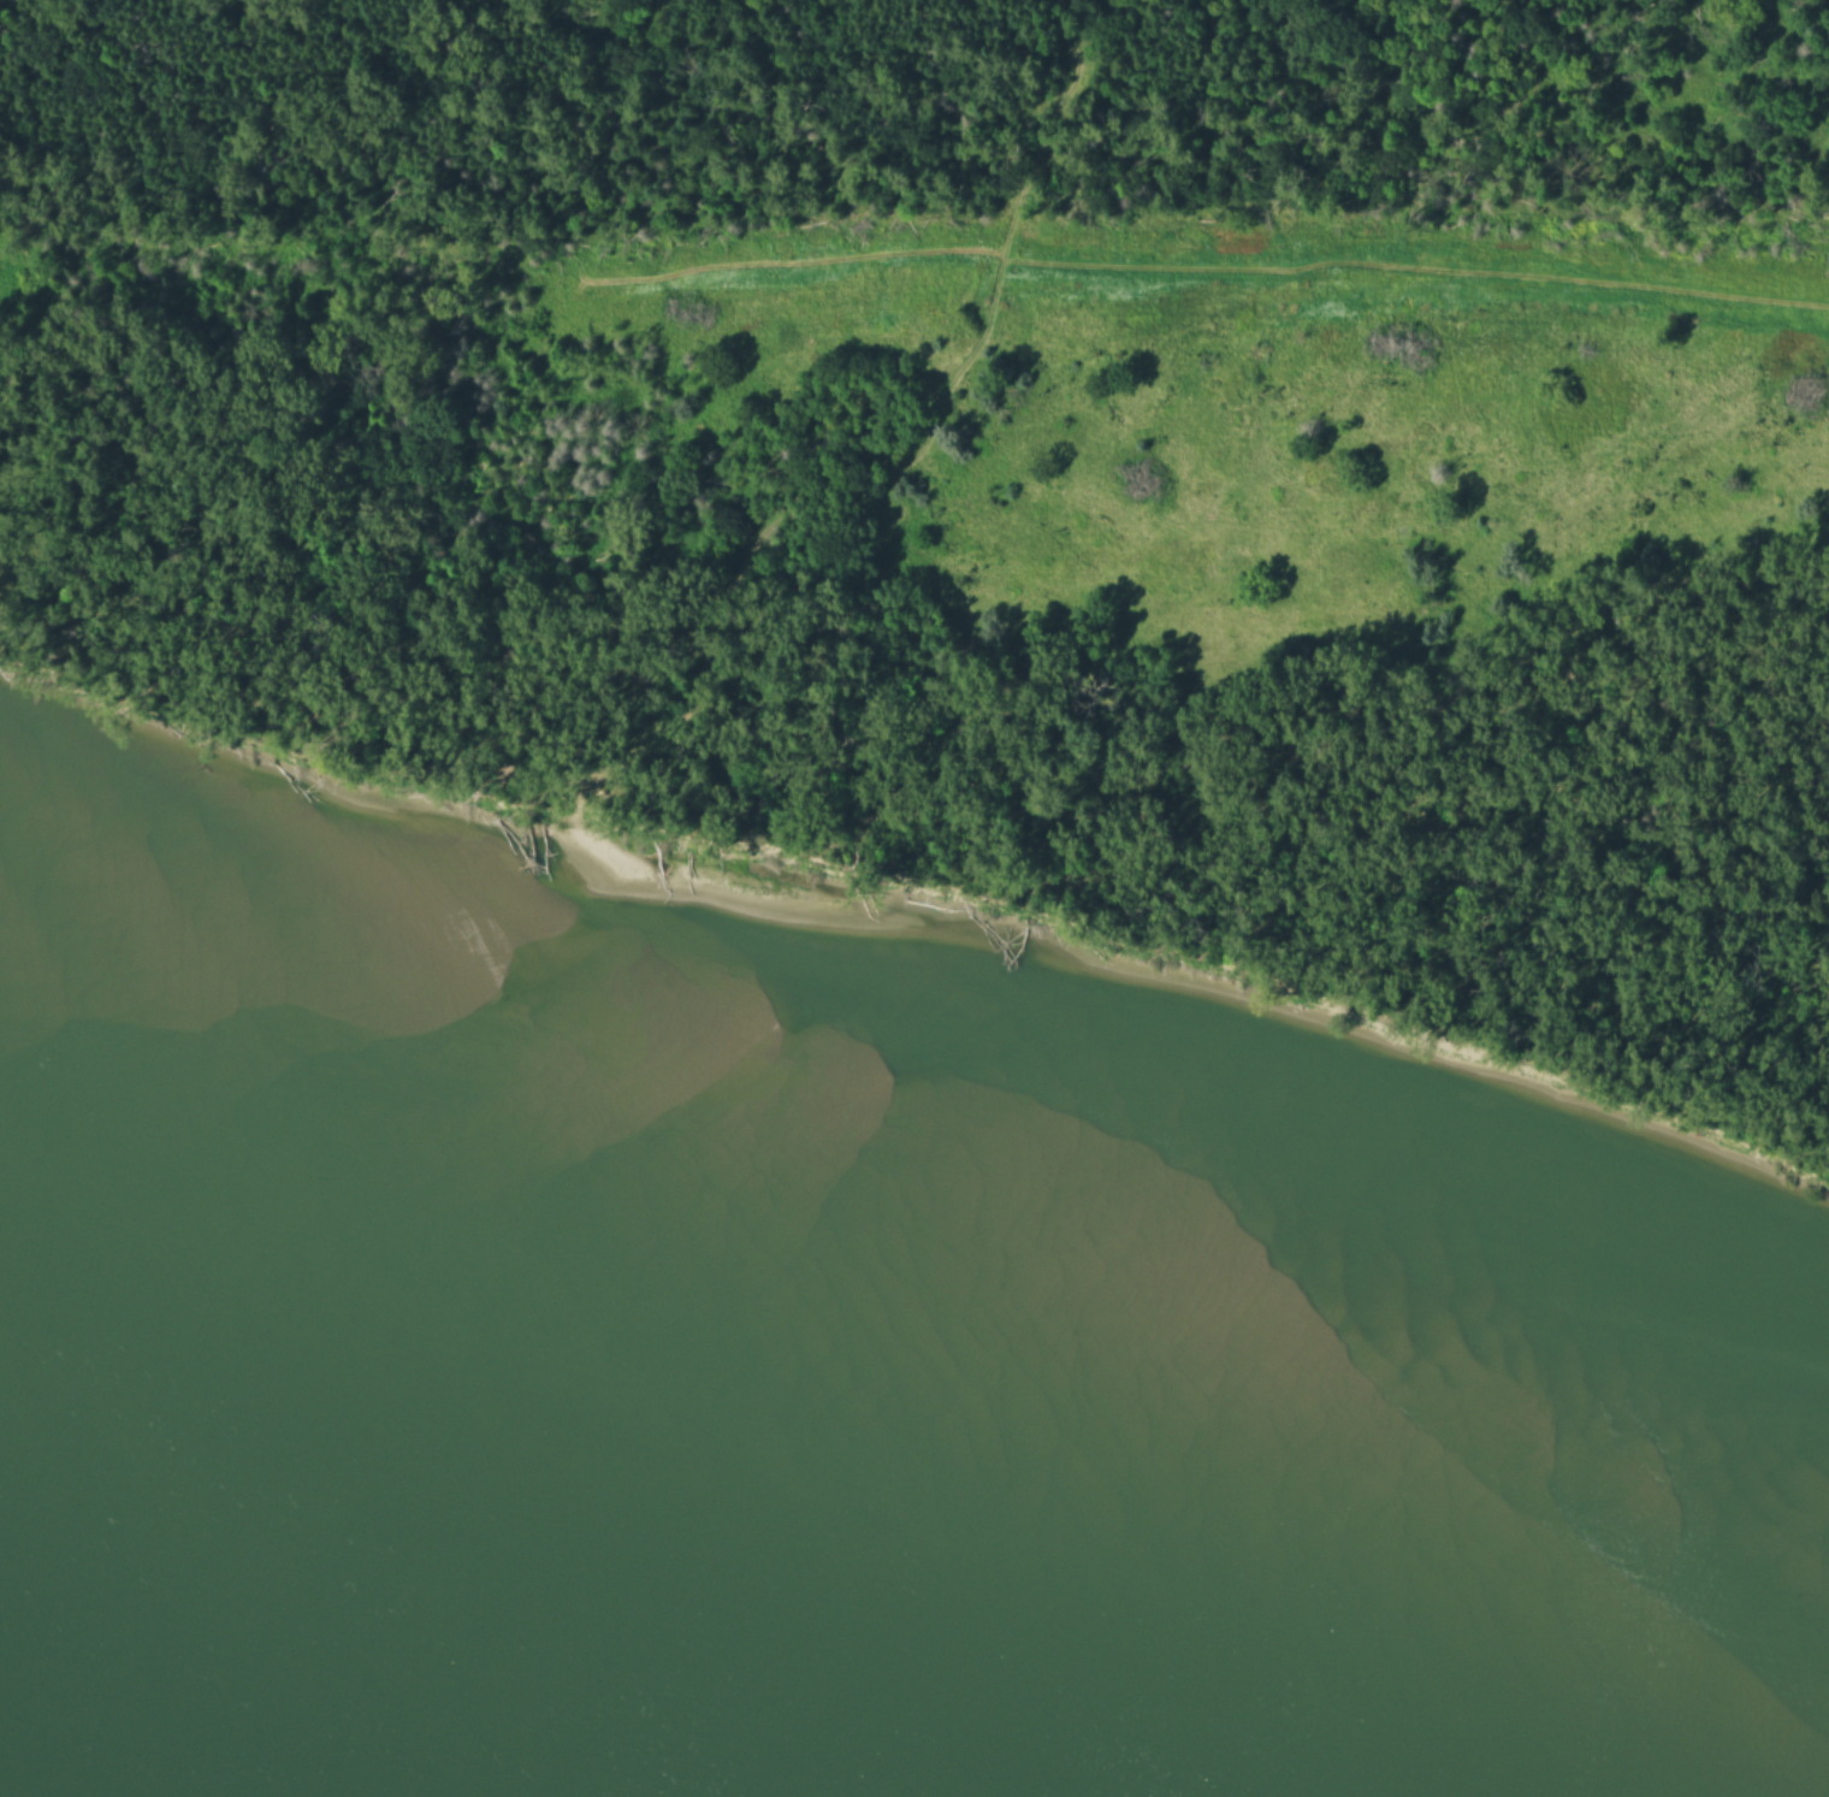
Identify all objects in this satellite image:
river: (373, 1668)

